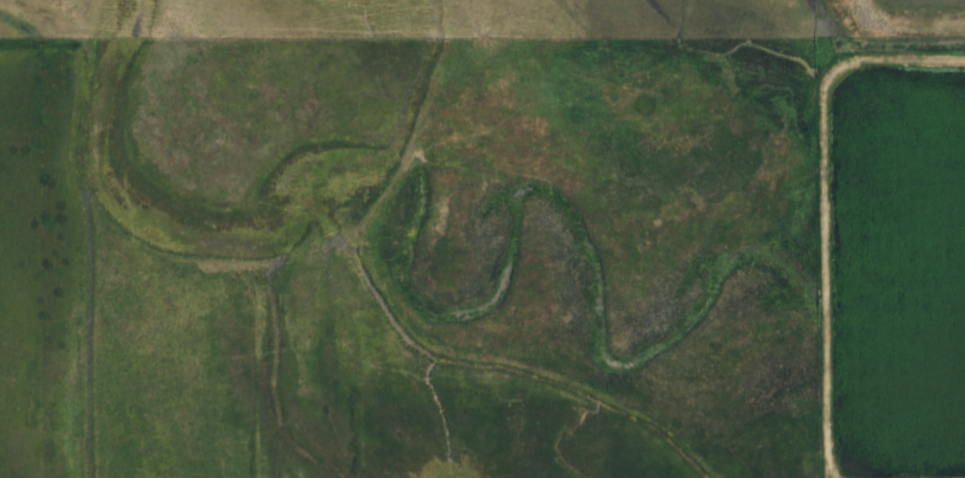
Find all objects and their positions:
crop: (41, 266)

